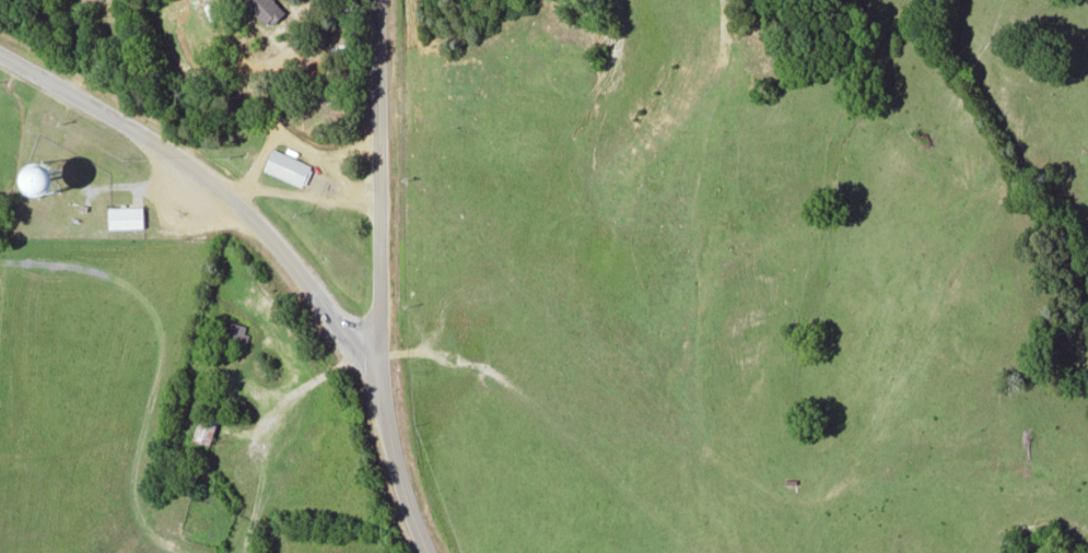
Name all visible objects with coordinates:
building: (102, 0)
building: (267, 9)
building: (286, 166)
road: (203, 174)
building: (49, 179)
road: (303, 196)
building: (125, 216)
road: (376, 281)
building: (234, 330)
building: (204, 427)

